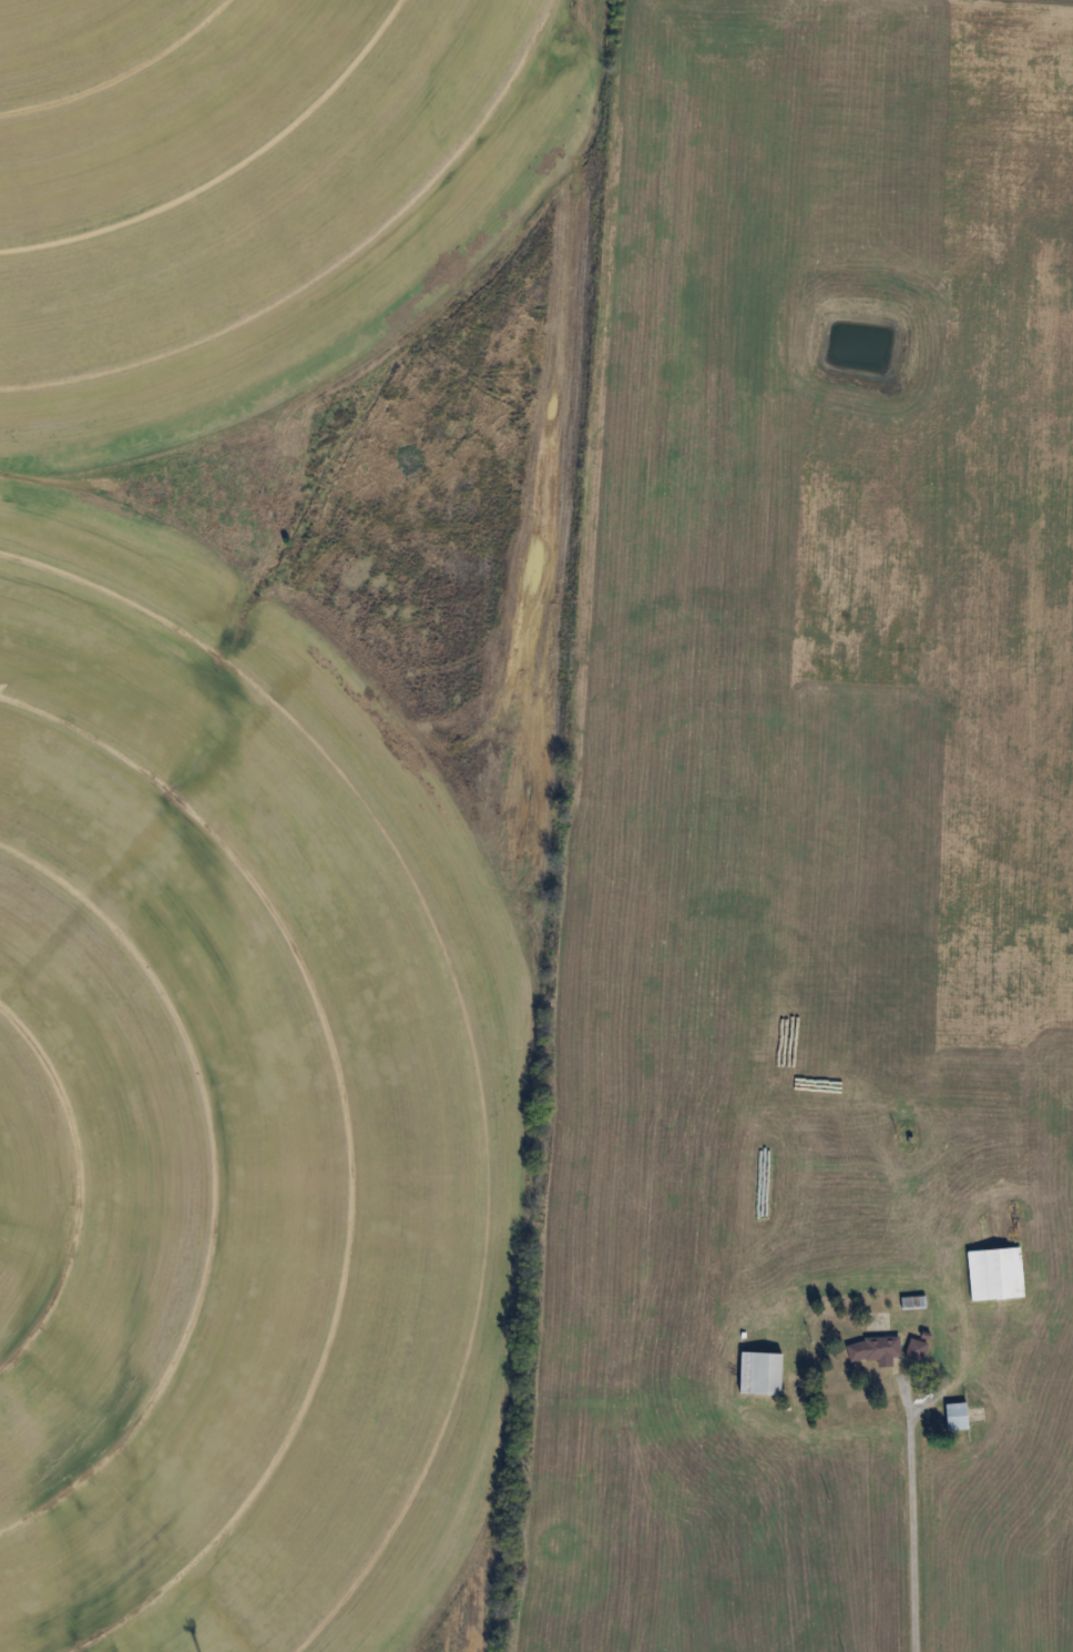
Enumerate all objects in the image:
building: (997, 1273)
building: (888, 1349)
building: (763, 1372)
building: (958, 1416)
road: (913, 1537)

